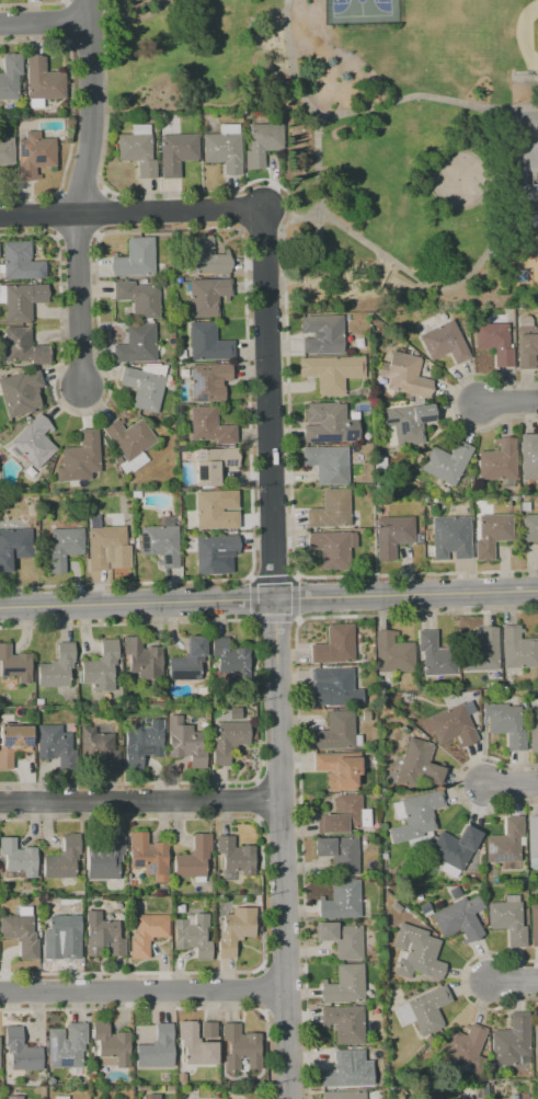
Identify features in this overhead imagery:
park: (358, 5)
road: (45, 26)
park: (528, 35)
road: (253, 42)
road: (291, 65)
building: (10, 76)
building: (43, 80)
road: (524, 80)
road: (428, 96)
road: (92, 107)
road: (517, 107)
building: (208, 128)
park: (360, 136)
building: (262, 142)
building: (224, 148)
building: (137, 149)
building: (5, 151)
building: (175, 152)
building: (34, 154)
building: (527, 171)
road: (431, 179)
park: (459, 179)
road: (493, 180)
road: (131, 213)
building: (205, 256)
building: (135, 259)
building: (21, 262)
road: (401, 267)
building: (206, 296)
building: (138, 298)
building: (22, 300)
road: (84, 304)
building: (321, 334)
building: (443, 342)
building: (494, 342)
building: (207, 343)
building: (136, 344)
building: (24, 346)
building: (526, 346)
building: (331, 373)
building: (403, 375)
building: (208, 381)
building: (142, 388)
building: (20, 392)
road: (510, 407)
building: (407, 422)
building: (328, 424)
building: (209, 426)
building: (128, 437)
building: (34, 442)
building: (528, 456)
building: (80, 457)
building: (117, 460)
building: (446, 461)
building: (497, 461)
building: (328, 463)
building: (213, 465)
building: (216, 510)
building: (331, 510)
building: (529, 527)
building: (491, 534)
building: (391, 535)
building: (450, 537)
building: (419, 538)
building: (160, 543)
building: (104, 545)
building: (13, 546)
building: (64, 547)
building: (332, 548)
building: (214, 552)
road: (268, 598)
building: (334, 645)
building: (517, 649)
building: (480, 651)
building: (391, 652)
road: (275, 654)
building: (435, 655)
building: (230, 657)
building: (142, 659)
building: (187, 661)
building: (14, 664)
building: (101, 666)
building: (57, 667)
building: (335, 684)
building: (451, 723)
building: (505, 724)
building: (533, 730)
building: (334, 732)
building: (228, 741)
building: (184, 742)
building: (12, 743)
building: (55, 745)
building: (141, 745)
building: (101, 747)
building: (415, 765)
building: (339, 769)
road: (511, 783)
road: (140, 797)
building: (344, 814)
building: (414, 815)
building: (531, 837)
building: (505, 842)
building: (455, 847)
building: (339, 854)
building: (236, 855)
building: (149, 856)
building: (18, 858)
building: (62, 858)
building: (193, 858)
building: (105, 859)
building: (341, 900)
building: (396, 906)
building: (425, 908)
building: (458, 916)
building: (507, 921)
building: (534, 925)
building: (234, 929)
building: (20, 934)
building: (59, 934)
building: (146, 934)
building: (192, 935)
building: (102, 937)
building: (341, 939)
building: (415, 952)
road: (513, 982)
building: (344, 985)
road: (142, 991)
building: (424, 1010)
building: (344, 1023)
building: (208, 1030)
building: (512, 1042)
building: (111, 1043)
building: (535, 1044)
building: (195, 1045)
building: (66, 1046)
building: (154, 1048)
building: (465, 1048)
building: (240, 1049)
building: (21, 1051)
building: (344, 1068)
building: (49, 1080)
building: (343, 1095)
building: (13, 1097)
building: (60, 1097)
building: (466, 1097)
building: (479, 1098)

